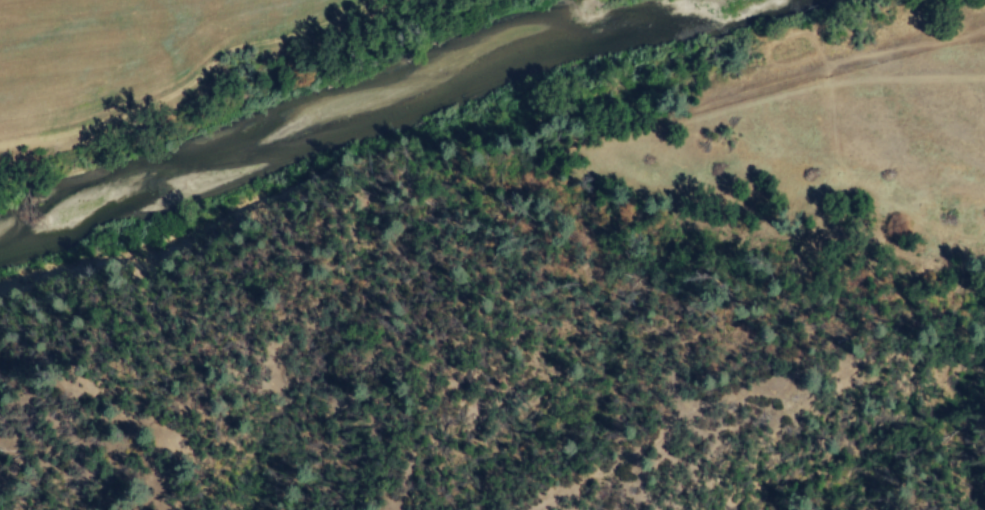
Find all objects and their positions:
river: (378, 97)

